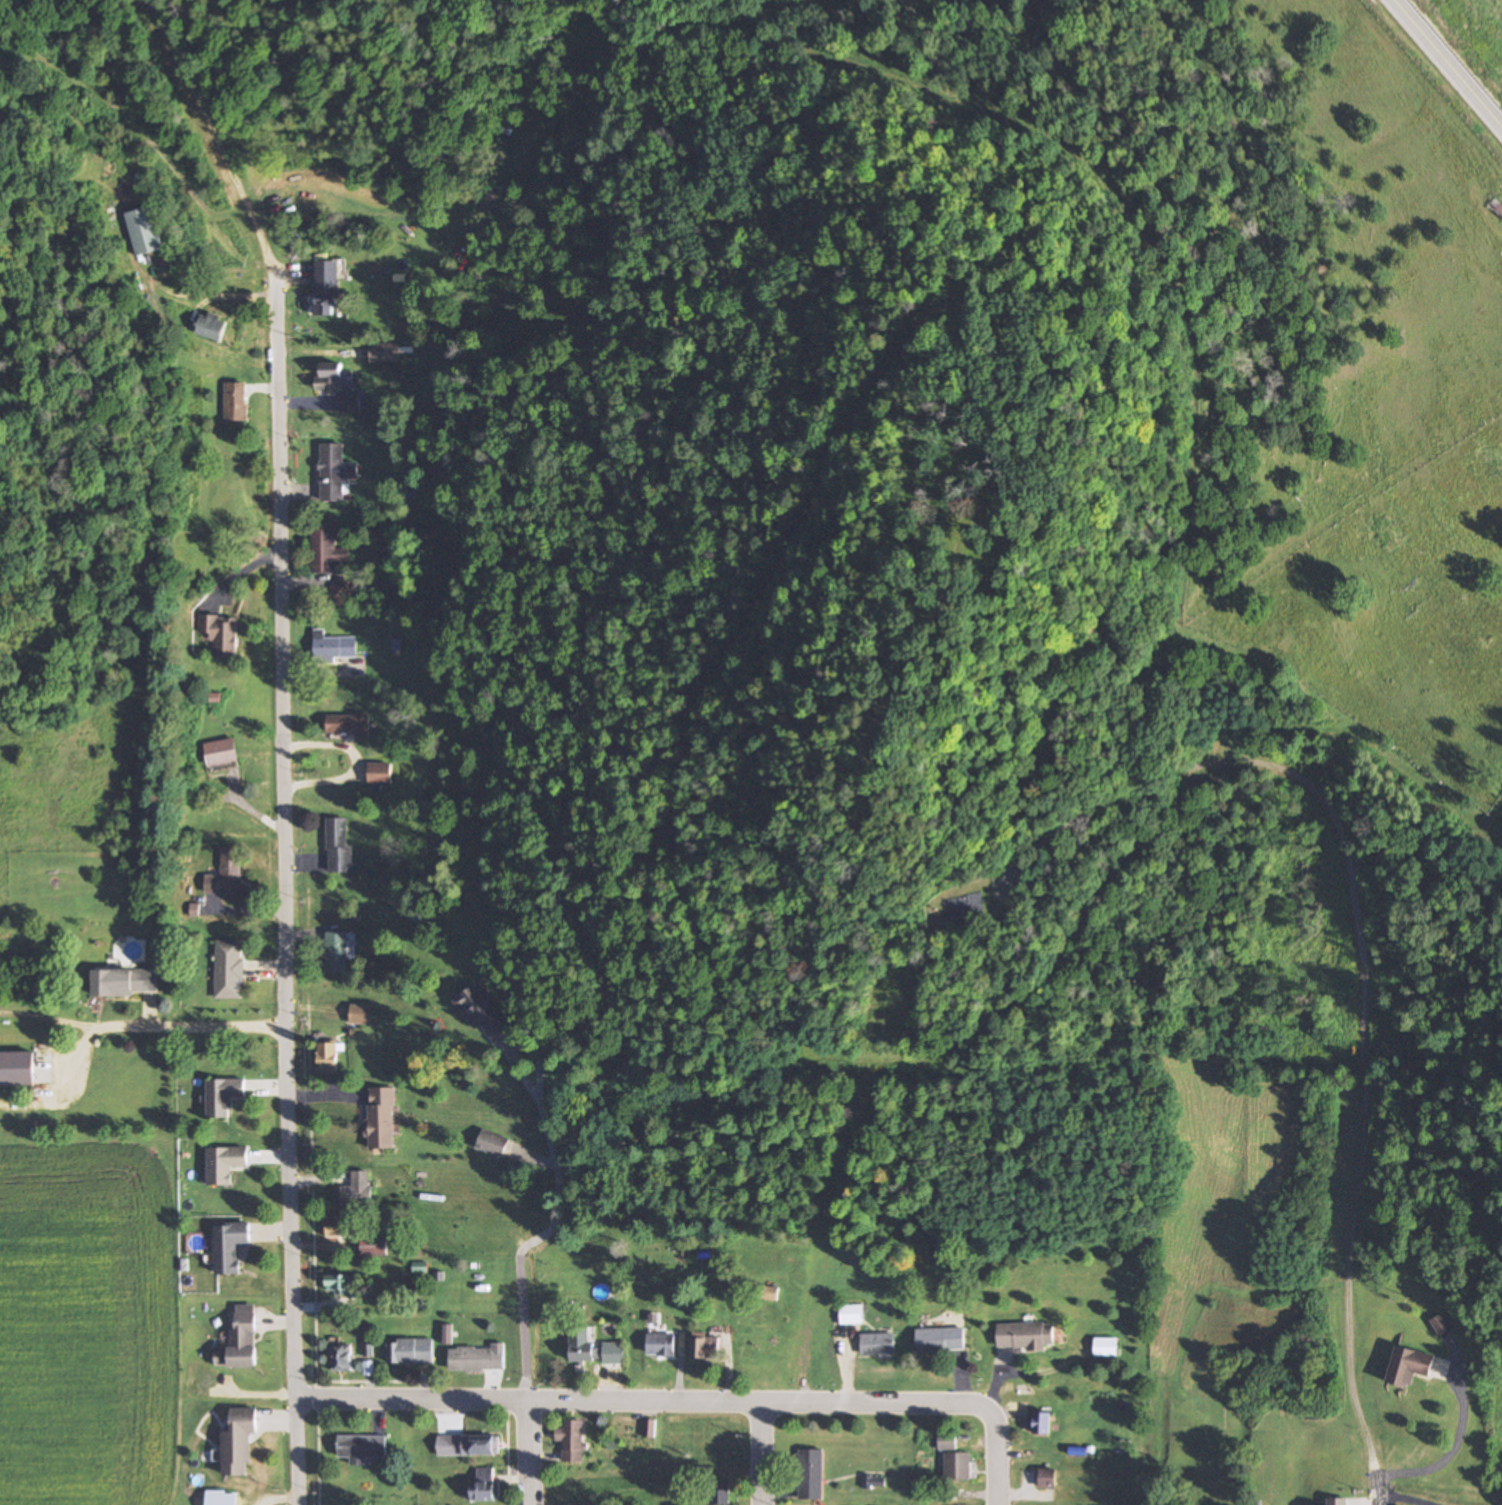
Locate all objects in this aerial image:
road: (1450, 60)
building: (1497, 206)
building: (145, 232)
building: (327, 298)
building: (213, 327)
building: (384, 352)
building: (341, 387)
building: (237, 403)
building: (332, 473)
building: (327, 551)
building: (341, 591)
building: (221, 635)
building: (334, 647)
building: (349, 726)
building: (888, 748)
building: (221, 752)
road: (359, 763)
building: (378, 773)
building: (338, 845)
building: (226, 874)
road: (286, 880)
building: (490, 902)
building: (965, 908)
building: (336, 952)
building: (230, 969)
building: (134, 982)
building: (483, 1012)
building: (362, 1014)
road: (154, 1027)
building: (329, 1058)
building: (16, 1068)
building: (224, 1095)
building: (383, 1118)
building: (493, 1142)
building: (226, 1162)
building: (358, 1189)
building: (340, 1225)
road: (315, 1238)
building: (230, 1245)
building: (375, 1245)
building: (344, 1283)
building: (851, 1314)
building: (1441, 1323)
building: (1026, 1335)
building: (941, 1339)
building: (241, 1340)
building: (879, 1343)
building: (583, 1344)
building: (661, 1344)
building: (1106, 1346)
building: (706, 1347)
building: (410, 1350)
building: (341, 1357)
building: (472, 1359)
building: (1410, 1365)
road: (530, 1367)
road: (650, 1398)
building: (1043, 1422)
building: (572, 1439)
building: (239, 1441)
building: (947, 1442)
building: (468, 1444)
building: (362, 1447)
road: (760, 1452)
road: (508, 1455)
road: (318, 1456)
road: (999, 1465)
building: (958, 1466)
building: (812, 1474)
building: (1048, 1478)
building: (485, 1484)
road: (1378, 1487)
building: (722, 1492)
building: (1339, 1501)

